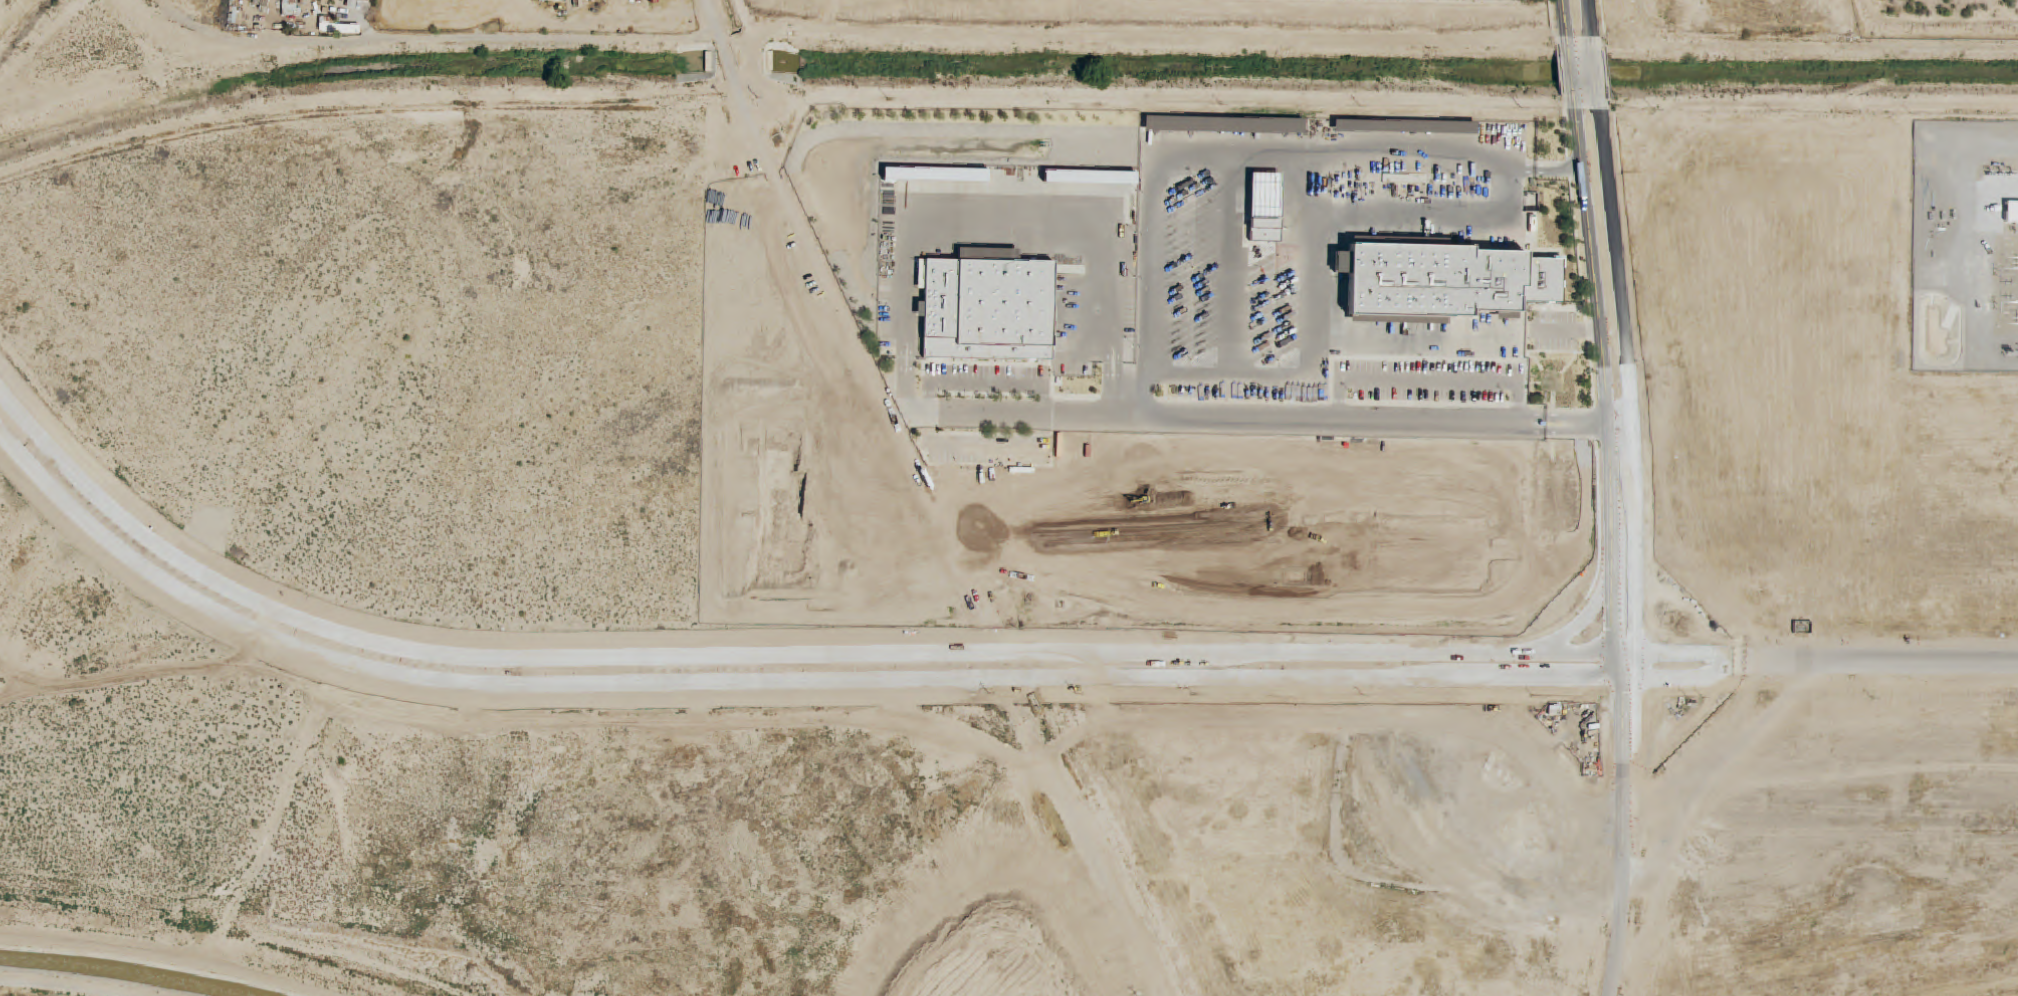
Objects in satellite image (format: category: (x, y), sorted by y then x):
building: (542, 0)
building: (353, 3)
building: (290, 7)
road: (1590, 19)
road: (1565, 21)
building: (326, 27)
building: (347, 29)
road: (432, 39)
road: (1597, 77)
road: (1572, 78)
power substation: (1964, 248)
road: (1608, 440)
road: (1632, 441)
road: (934, 501)
road: (764, 655)
road: (1709, 660)
road: (1911, 665)
road: (1710, 675)
road: (769, 682)
road: (1623, 881)

